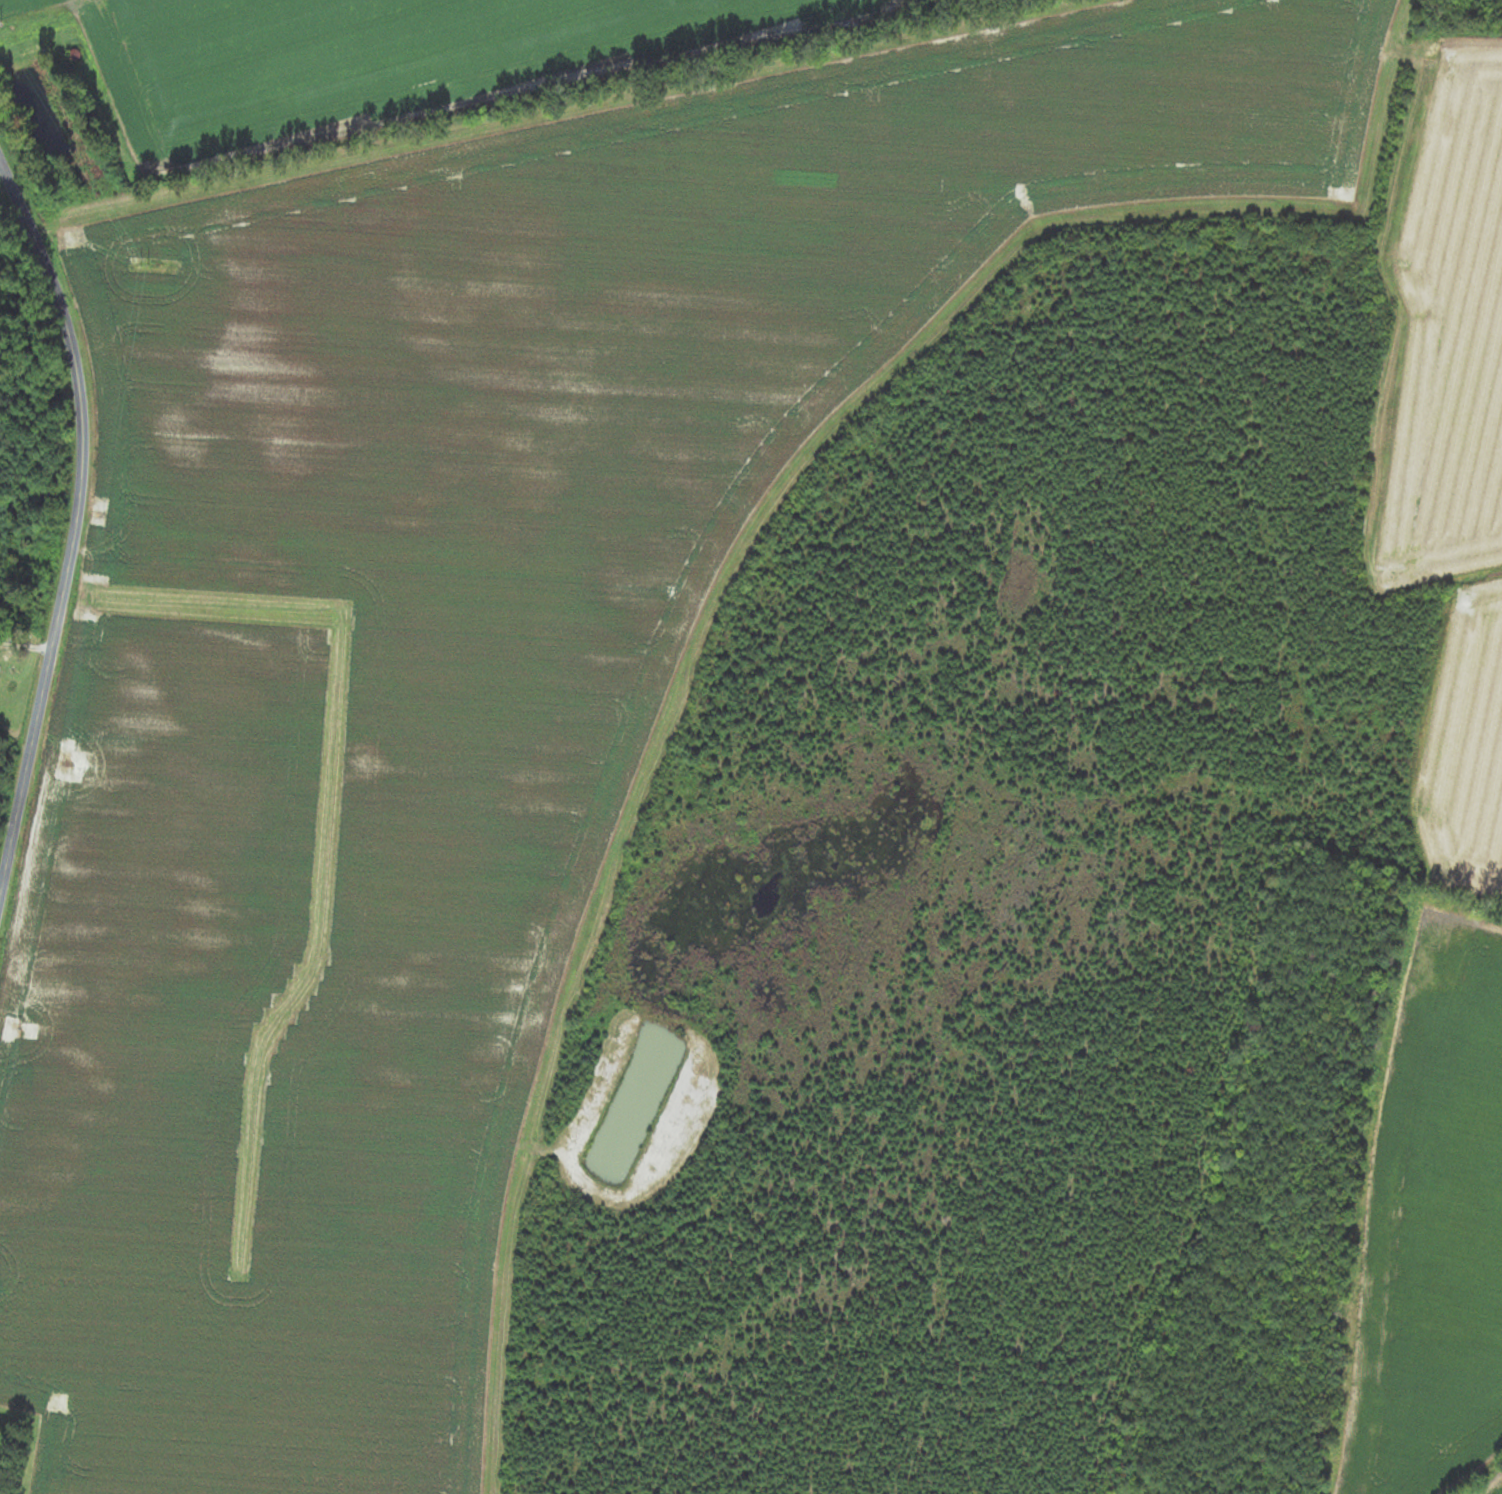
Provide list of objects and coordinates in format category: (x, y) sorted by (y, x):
road: (77, 529)

